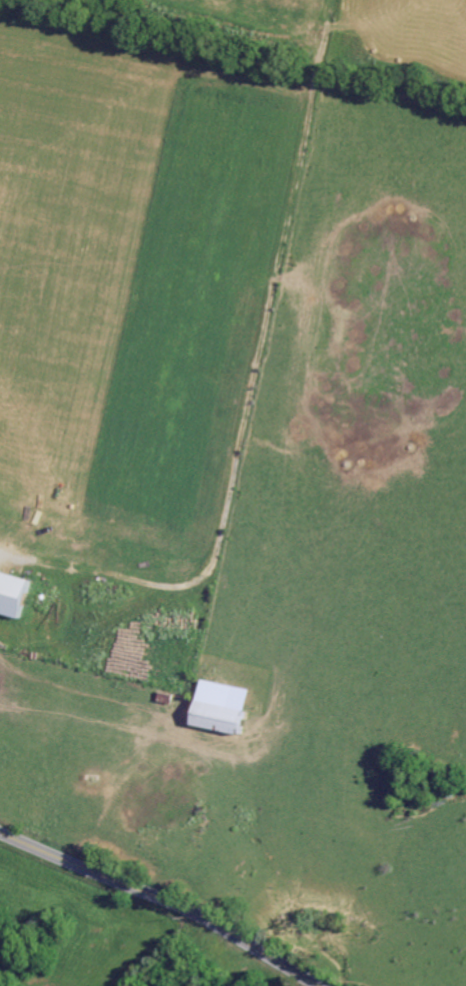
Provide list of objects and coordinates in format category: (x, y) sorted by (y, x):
building: (12, 594)
building: (220, 718)
road: (163, 900)

